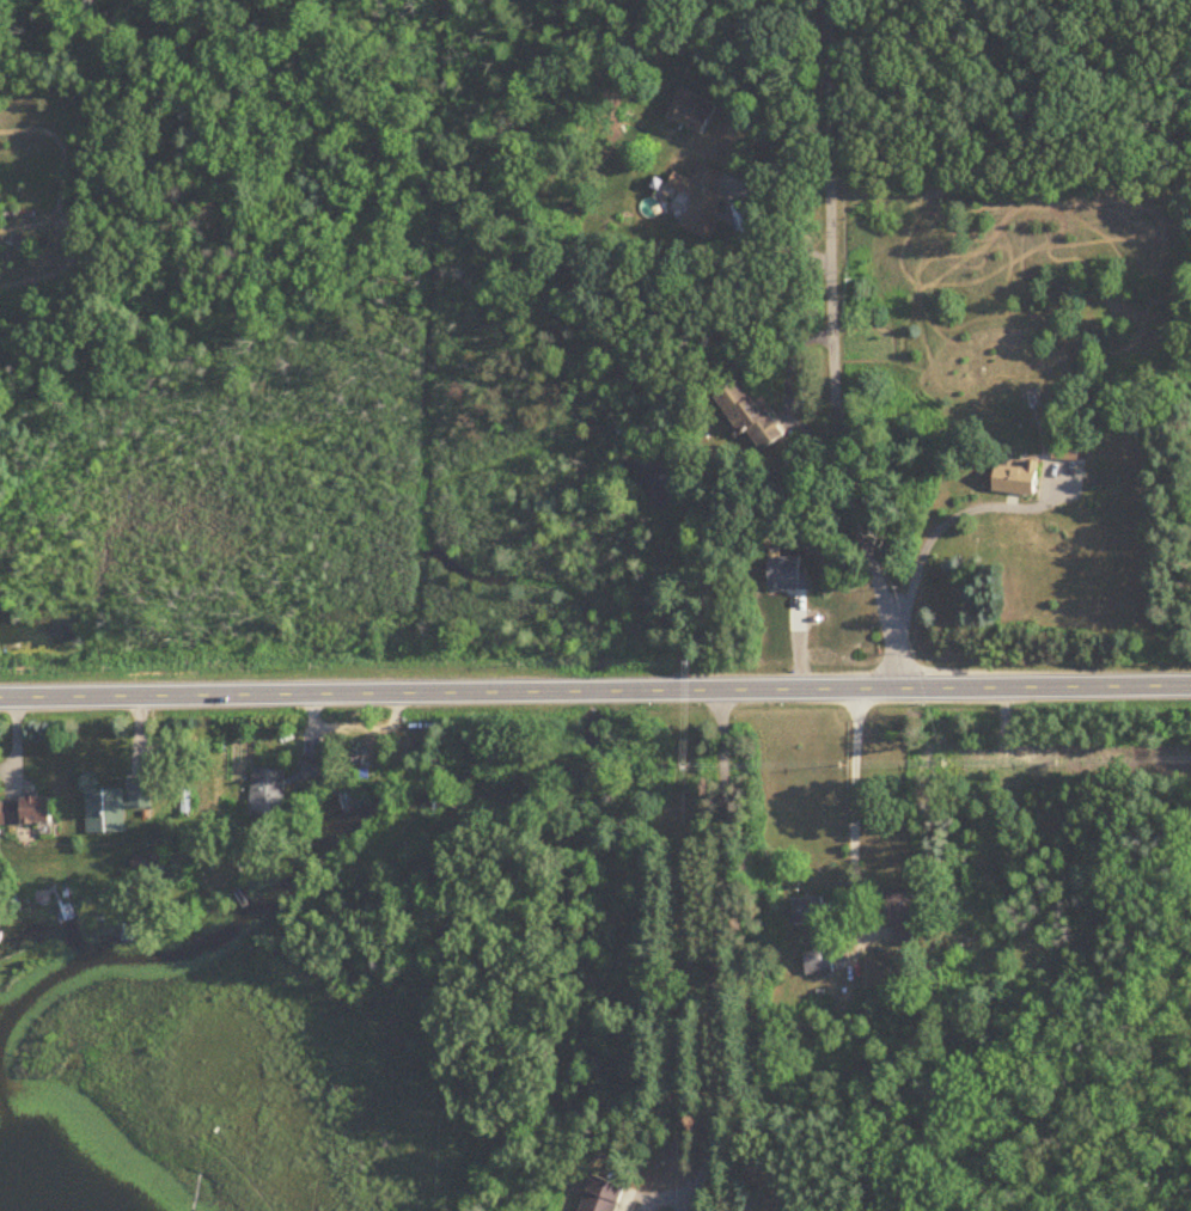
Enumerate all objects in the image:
building: (696, 114)
building: (698, 197)
road: (836, 348)
building: (750, 416)
building: (1071, 451)
building: (1018, 479)
road: (929, 536)
road: (594, 692)
building: (314, 769)
building: (268, 793)
building: (115, 806)
building: (26, 811)
building: (904, 904)
road: (814, 953)
road: (714, 955)
building: (819, 959)
building: (601, 1195)

